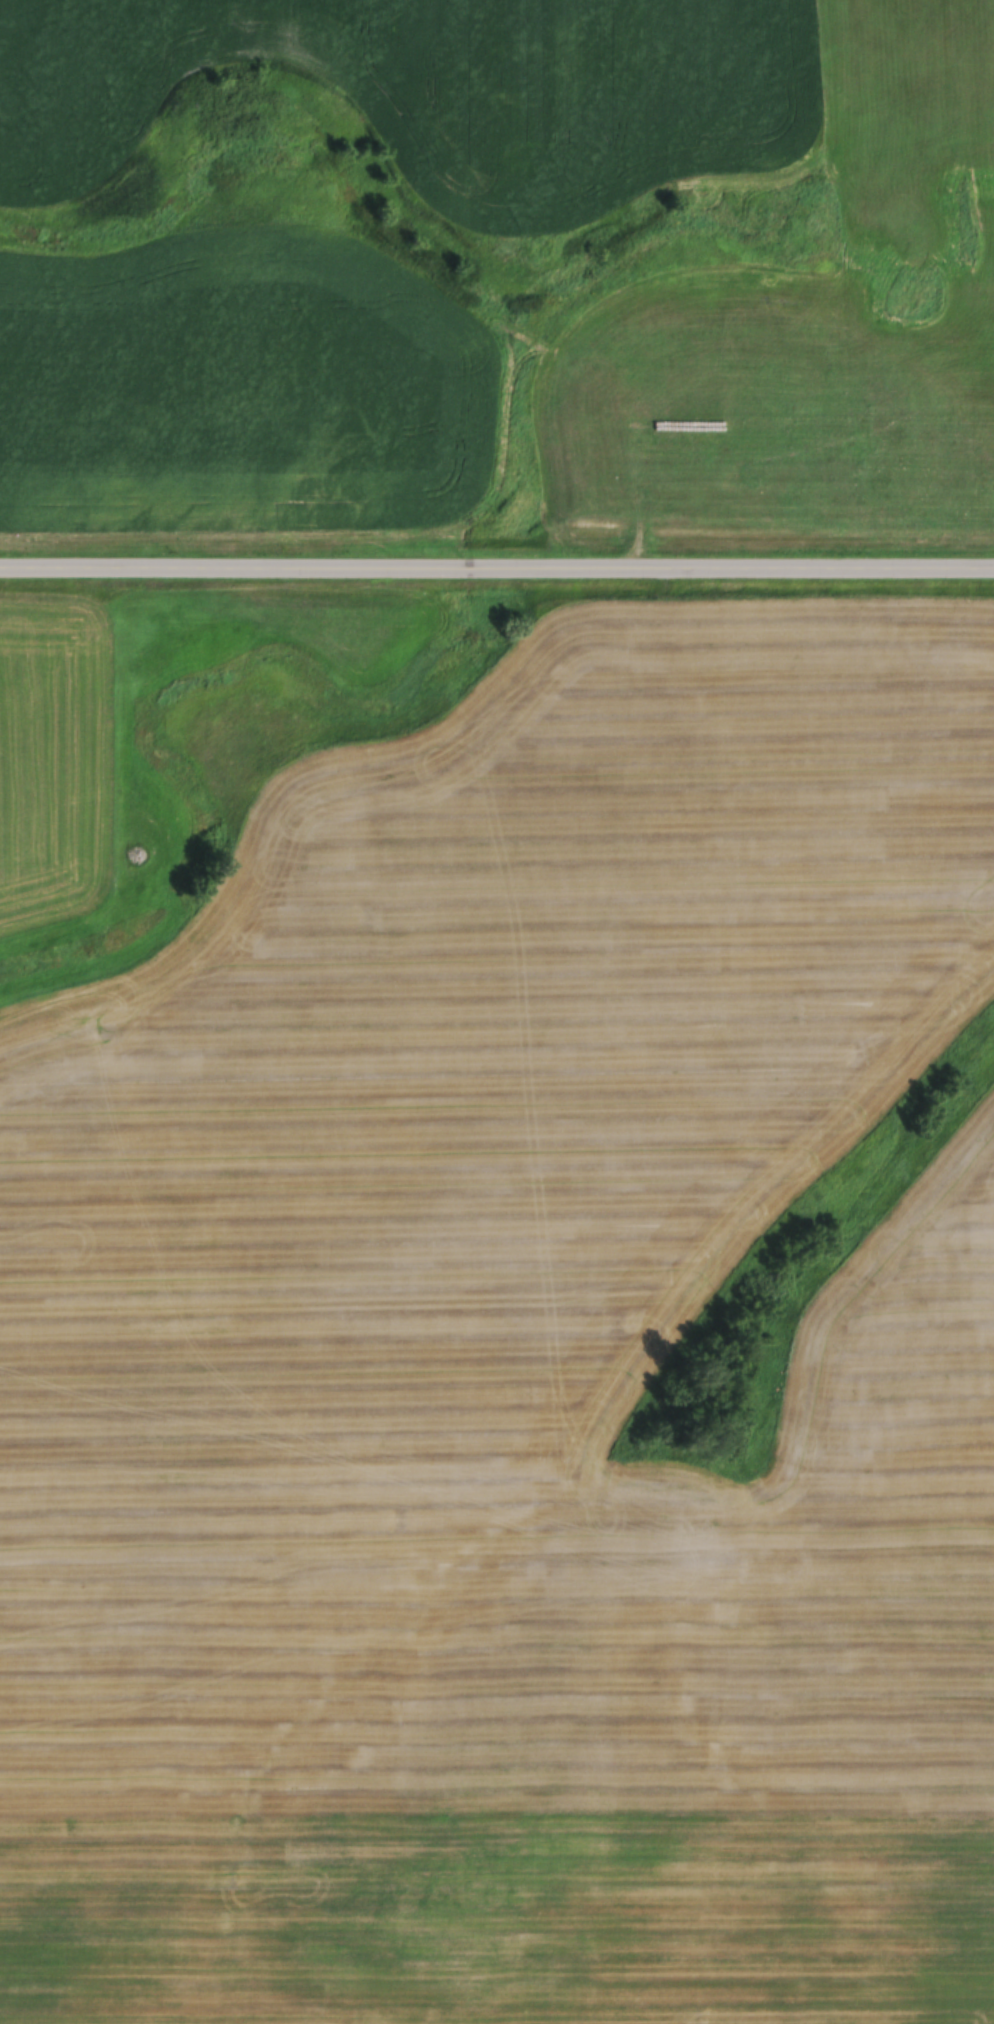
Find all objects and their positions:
crop: (429, 90)
road: (496, 564)

